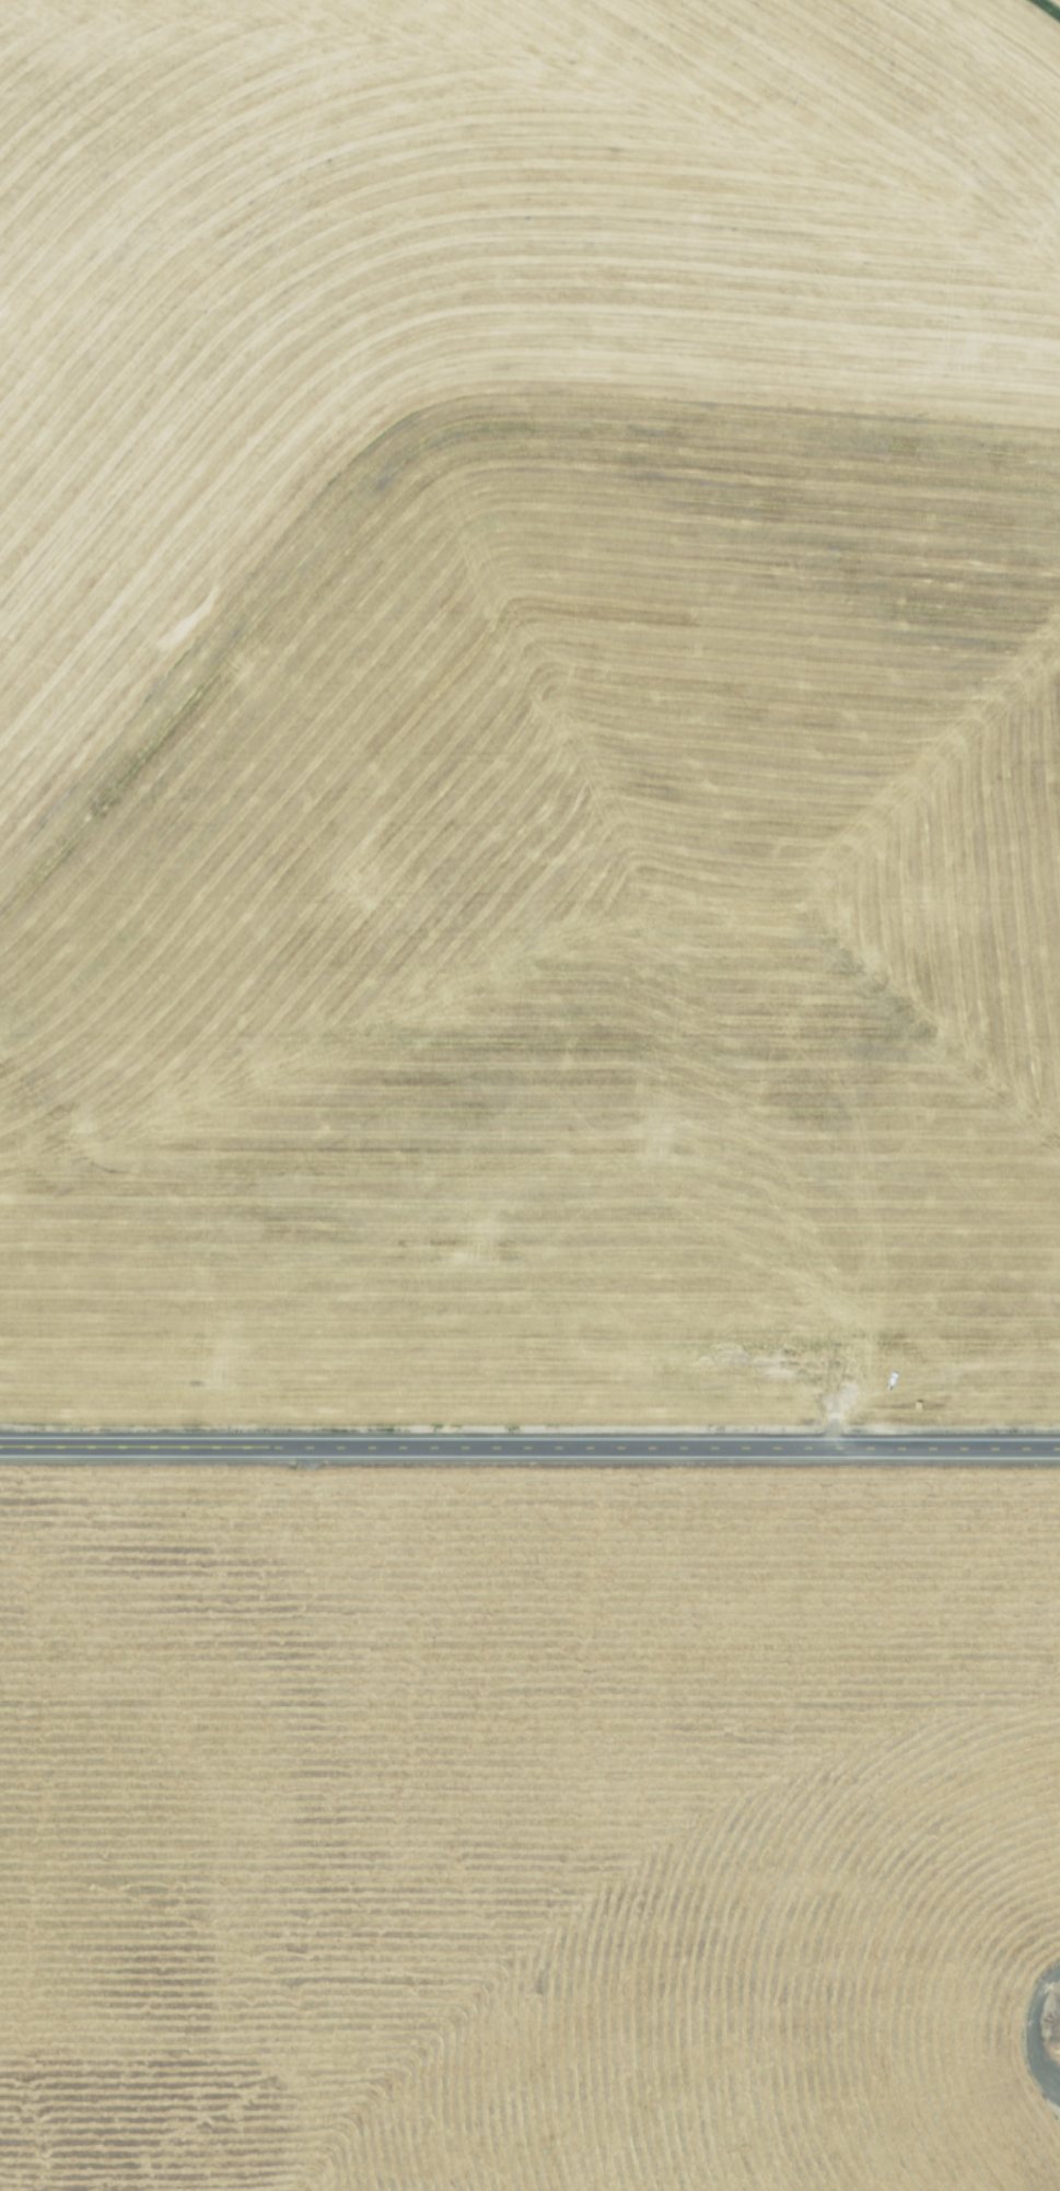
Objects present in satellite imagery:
crop: (529, 1095)
road: (529, 1448)
road: (1028, 2026)

